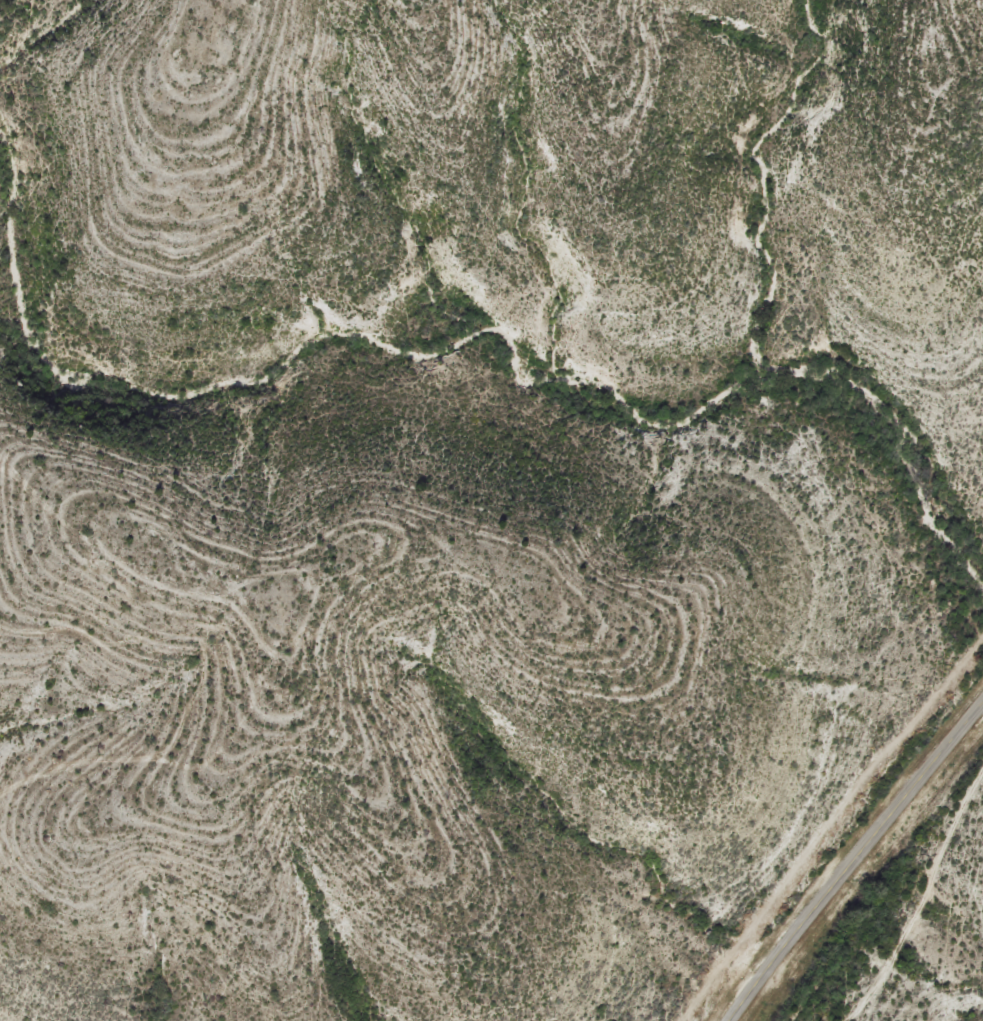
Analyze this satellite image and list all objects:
road: (852, 858)

